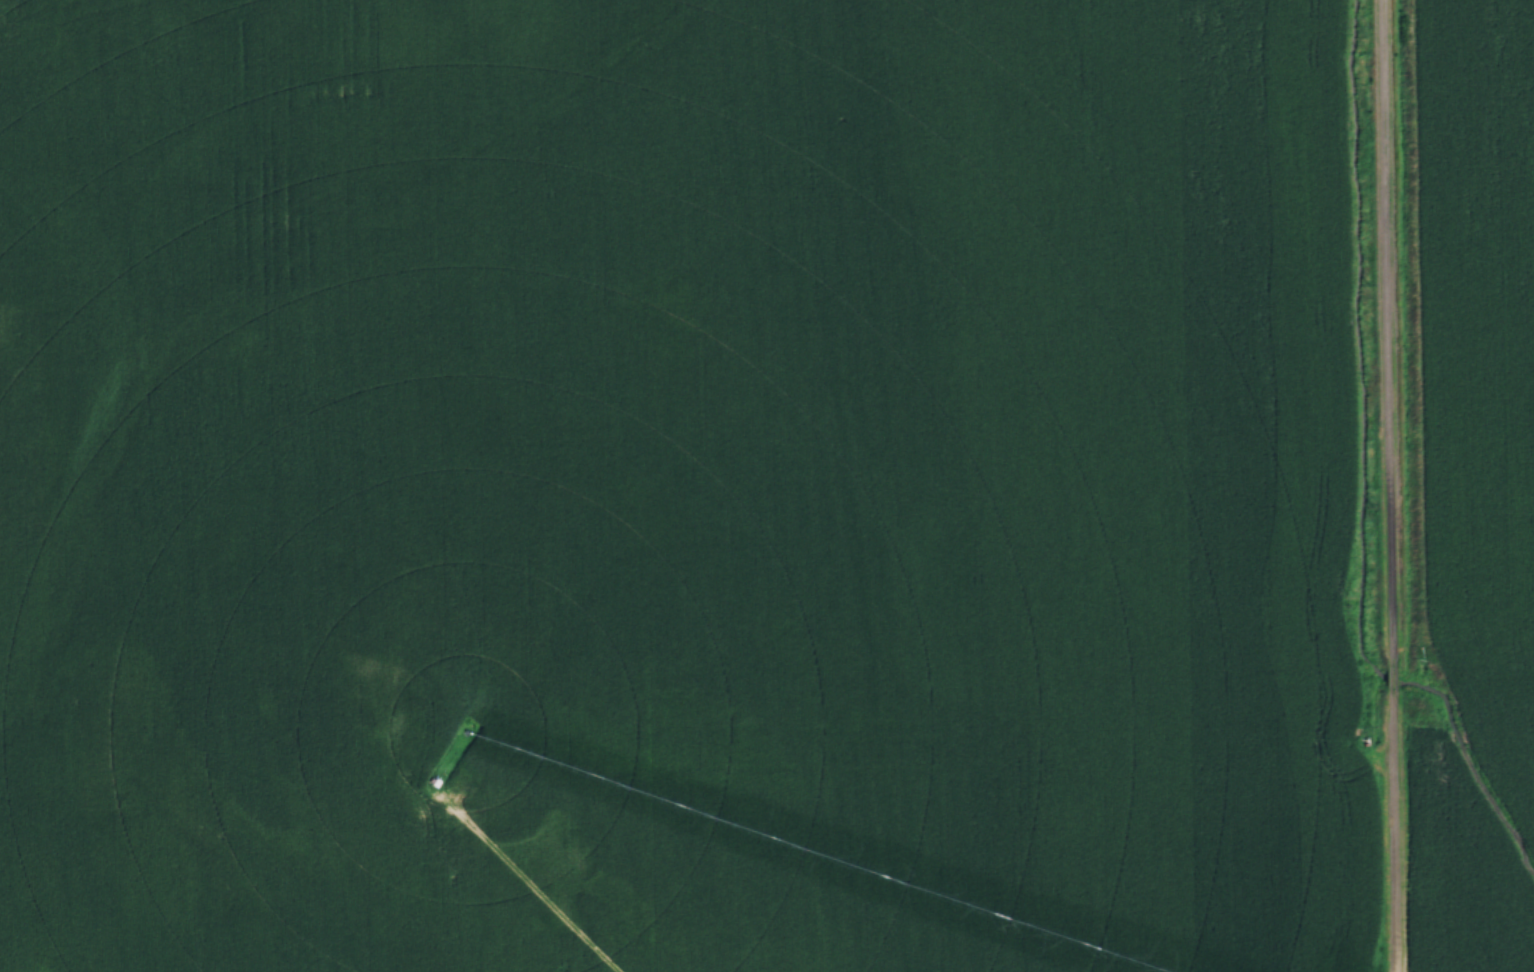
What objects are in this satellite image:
road: (1387, 334)
road: (1391, 678)
road: (1394, 829)

